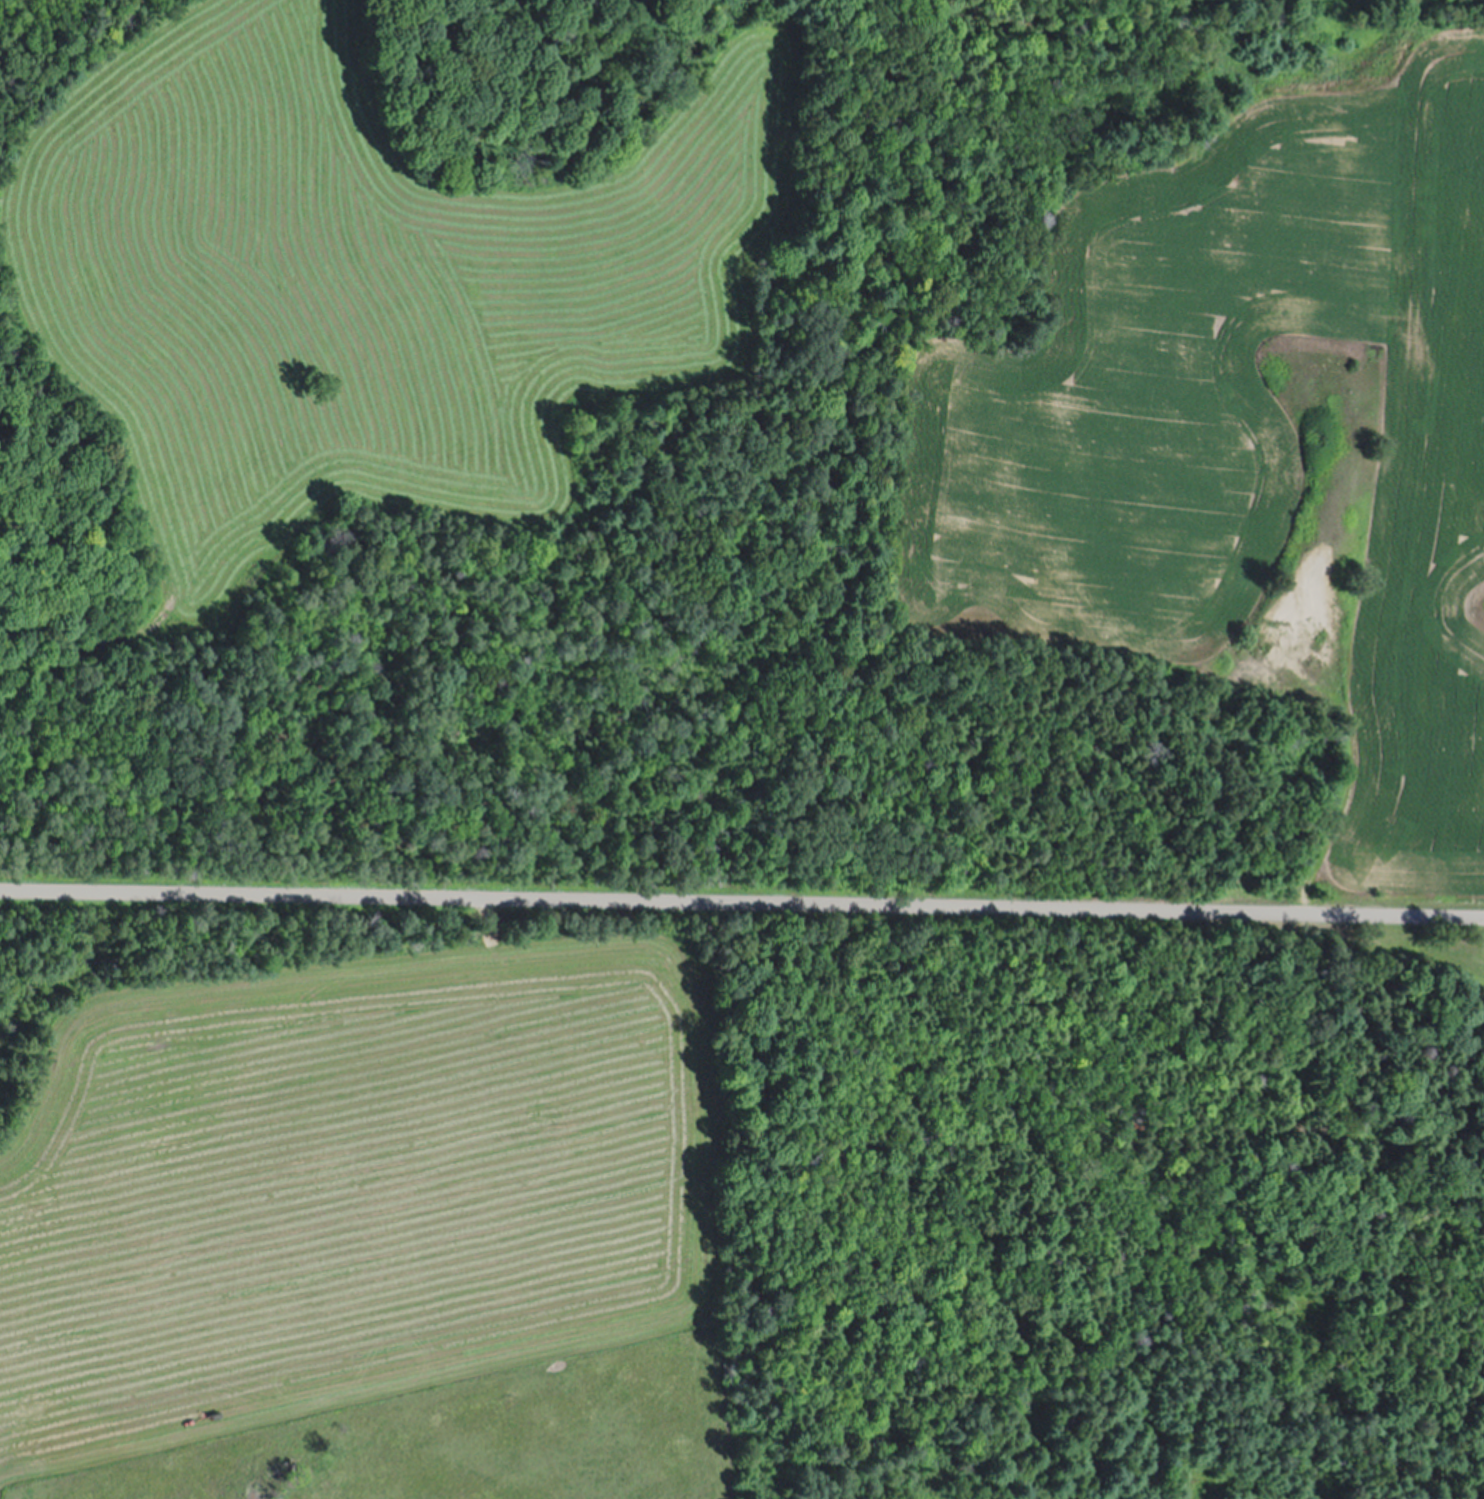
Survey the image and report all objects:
road: (742, 900)

